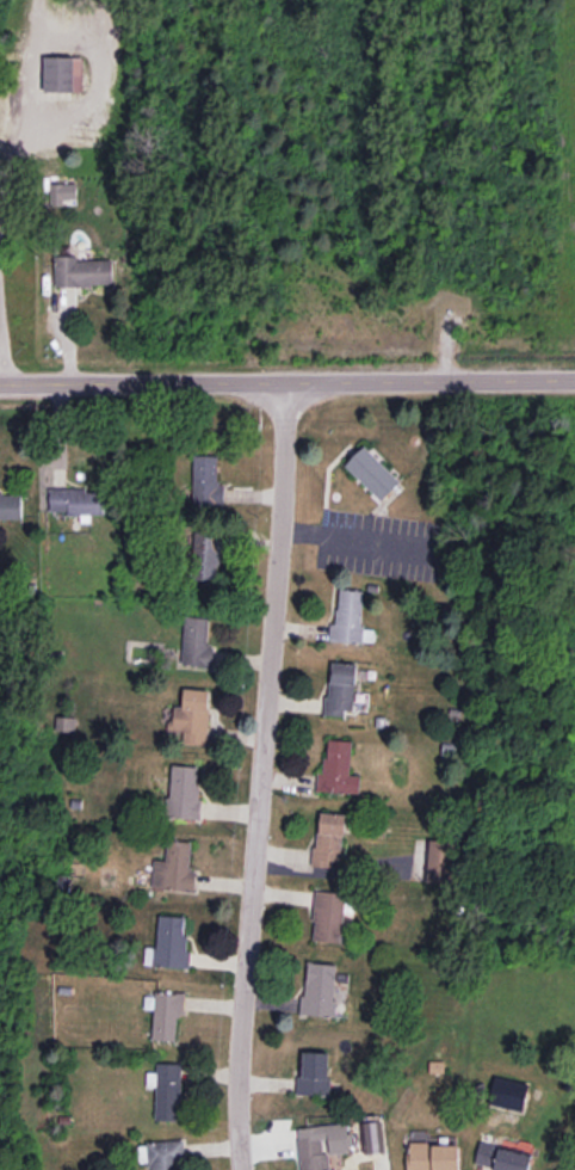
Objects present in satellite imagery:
building: (62, 73)
road: (26, 101)
building: (62, 193)
building: (81, 271)
road: (1, 364)
road: (286, 377)
building: (373, 475)
building: (205, 484)
road: (252, 498)
building: (76, 500)
building: (10, 505)
road: (354, 536)
road: (252, 543)
parking lot: (395, 549)
building: (205, 559)
building: (350, 620)
road: (298, 630)
building: (197, 641)
road: (241, 661)
building: (341, 689)
road: (295, 702)
building: (193, 716)
road: (235, 735)
building: (338, 768)
road: (260, 774)
road: (285, 784)
building: (183, 793)
road: (228, 812)
building: (332, 843)
road: (280, 855)
building: (441, 862)
building: (174, 869)
road: (224, 888)
road: (280, 900)
building: (327, 915)
building: (173, 943)
road: (218, 965)
building: (319, 991)
road: (215, 1004)
road: (270, 1005)
building: (166, 1017)
building: (314, 1073)
road: (210, 1077)
building: (508, 1092)
building: (166, 1095)
building: (372, 1137)
building: (321, 1144)
building: (432, 1151)
building: (166, 1153)
building: (501, 1157)
building: (569, 1168)

